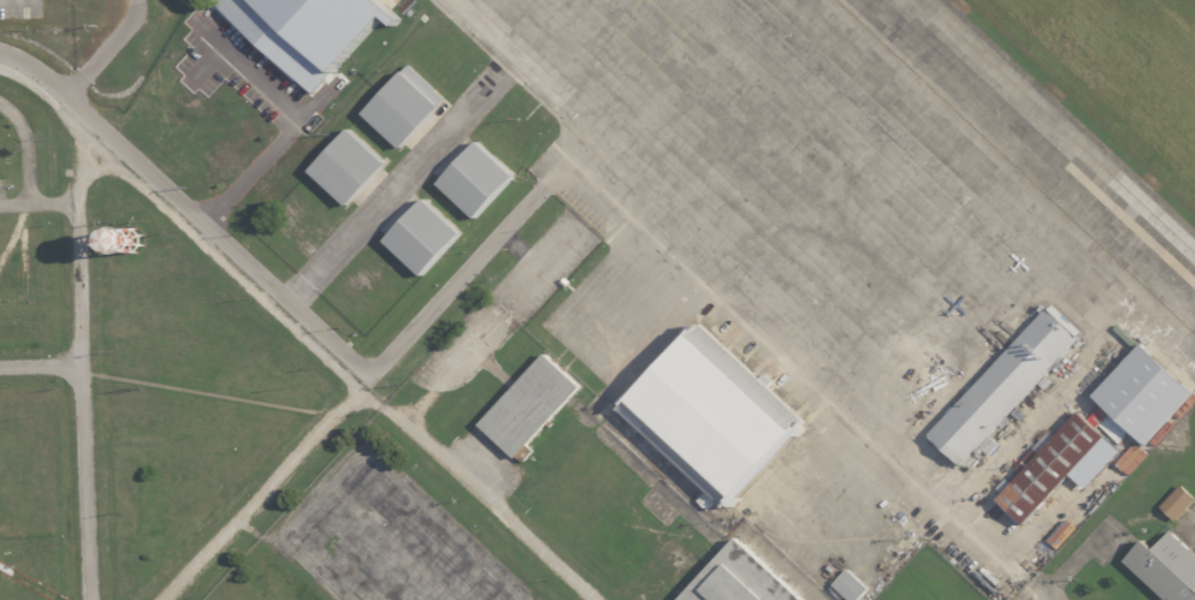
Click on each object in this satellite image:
building: (309, 30)
road: (53, 101)
airport hangar: (402, 106)
building: (402, 106)
road: (312, 109)
airport taxiway: (1059, 126)
road: (24, 150)
airport hangar: (347, 167)
building: (347, 167)
airport hangar: (474, 179)
building: (474, 179)
road: (391, 195)
road: (54, 202)
road: (14, 203)
airport: (715, 227)
airport hangar: (421, 237)
building: (421, 237)
airport apron: (880, 238)
road: (230, 266)
road: (279, 292)
road: (730, 327)
road: (41, 366)
road: (82, 370)
airport hangar: (1005, 385)
building: (1005, 385)
airport hangar: (1143, 393)
building: (1143, 393)
airport hangar: (528, 408)
building: (528, 408)
airport hangar: (710, 417)
building: (710, 417)
airport hangar: (1051, 468)
building: (1051, 468)
road: (480, 492)
road: (259, 493)
building: (1175, 503)
building: (1165, 569)
airport hangar: (739, 580)
building: (739, 580)
building: (853, 584)

